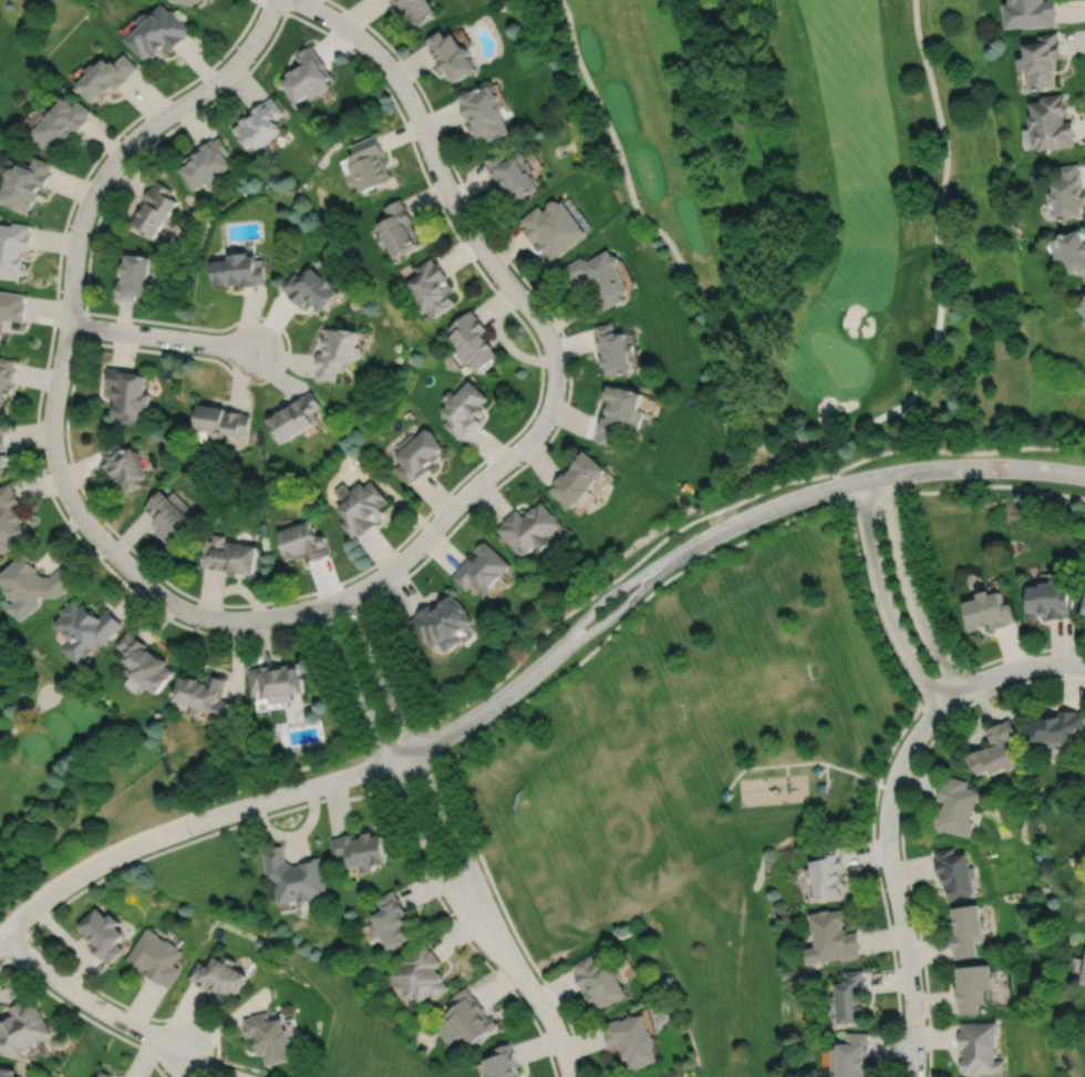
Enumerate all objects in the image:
road: (1084, 0)
building: (188, 1)
road: (286, 6)
building: (420, 9)
building: (1030, 13)
street lamp: (280, 16)
park: (30, 31)
building: (157, 32)
street lamp: (384, 47)
building: (455, 55)
building: (1042, 61)
street lamp: (248, 65)
building: (309, 75)
building: (105, 76)
building: (486, 113)
building: (60, 123)
building: (260, 124)
building: (1050, 124)
street lamp: (148, 141)
building: (207, 164)
street lamp: (448, 164)
building: (369, 165)
building: (512, 173)
building: (28, 184)
building: (1068, 193)
park: (813, 209)
building: (154, 211)
building: (552, 228)
building: (397, 229)
street lamp: (91, 230)
building: (14, 249)
building: (1071, 252)
building: (239, 271)
building: (135, 278)
building: (599, 278)
street lamp: (496, 286)
building: (312, 289)
building: (433, 289)
road: (524, 302)
building: (1084, 304)
building: (11, 309)
building: (1083, 310)
street lamp: (259, 320)
building: (1084, 324)
road: (161, 336)
building: (474, 342)
road: (537, 350)
street lamp: (75, 351)
street lamp: (185, 351)
building: (614, 351)
road: (288, 352)
building: (339, 353)
road: (570, 373)
building: (6, 376)
road: (59, 376)
street lamp: (544, 384)
building: (127, 392)
building: (463, 409)
building: (620, 414)
building: (297, 417)
building: (219, 420)
building: (2, 437)
road: (790, 447)
road: (958, 451)
building: (416, 453)
building: (2, 460)
building: (122, 465)
street lamp: (477, 470)
street lamp: (45, 472)
road: (878, 476)
building: (577, 478)
street lamp: (1001, 479)
street lamp: (920, 482)
road: (838, 484)
road: (961, 488)
building: (361, 506)
building: (168, 513)
building: (10, 517)
street lamp: (781, 517)
building: (528, 529)
building: (304, 541)
building: (229, 554)
street lamp: (420, 560)
road: (858, 560)
street lamp: (107, 562)
building: (482, 568)
road: (619, 576)
building: (31, 583)
road: (910, 588)
road: (610, 593)
road: (883, 599)
building: (1048, 599)
road: (147, 604)
road: (622, 607)
building: (1084, 607)
building: (988, 611)
road: (338, 614)
road: (936, 615)
street lamp: (307, 622)
building: (441, 622)
street lamp: (193, 626)
building: (85, 628)
road: (1030, 652)
street lamp: (573, 653)
building: (145, 661)
street lamp: (390, 663)
road: (1009, 669)
road: (382, 671)
building: (278, 681)
road: (356, 683)
park: (750, 689)
building: (206, 695)
street lamp: (502, 711)
road: (25, 716)
road: (476, 716)
building: (1058, 727)
park: (685, 732)
road: (432, 740)
road: (400, 741)
building: (996, 750)
park: (53, 755)
road: (800, 763)
road: (374, 768)
building: (817, 769)
road: (786, 770)
road: (826, 775)
building: (821, 788)
building: (727, 794)
street lamp: (394, 796)
street lamp: (321, 797)
building: (957, 807)
park: (581, 822)
road: (186, 825)
street lamp: (210, 829)
road: (209, 833)
building: (359, 851)
street lamp: (141, 857)
road: (466, 862)
building: (827, 873)
building: (954, 873)
road: (442, 875)
building: (293, 876)
road: (895, 884)
street lamp: (452, 914)
building: (389, 922)
building: (965, 932)
building: (102, 935)
road: (2, 937)
building: (830, 938)
building: (156, 957)
building: (420, 976)
building: (219, 977)
building: (1084, 978)
building: (599, 983)
building: (971, 987)
building: (849, 999)
road: (87, 1001)
street lamp: (535, 1016)
street lamp: (96, 1018)
building: (466, 1020)
road: (551, 1022)
building: (22, 1029)
building: (267, 1038)
building: (632, 1042)
building: (978, 1049)
building: (850, 1056)
street lamp: (211, 1059)
building: (503, 1064)
building: (6, 1073)
building: (104, 1075)

